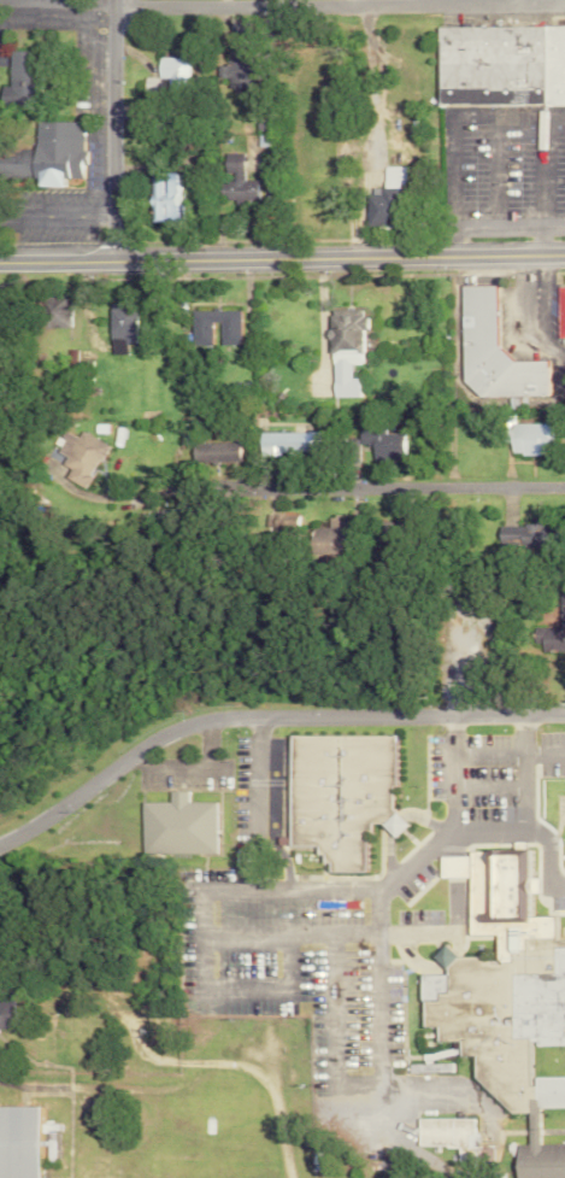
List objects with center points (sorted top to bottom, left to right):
road: (282, 4)
building: (498, 64)
building: (231, 70)
building: (170, 75)
building: (18, 80)
road: (111, 129)
building: (48, 152)
road: (532, 169)
building: (230, 180)
building: (159, 195)
building: (379, 197)
road: (492, 228)
road: (282, 258)
building: (52, 310)
building: (557, 311)
building: (118, 328)
building: (199, 333)
building: (341, 350)
building: (488, 353)
building: (520, 436)
building: (284, 443)
building: (375, 444)
building: (214, 451)
building: (77, 456)
road: (366, 487)
building: (279, 526)
building: (382, 531)
building: (518, 534)
building: (323, 538)
building: (549, 629)
road: (264, 717)
road: (506, 745)
road: (520, 774)
building: (335, 795)
road: (259, 803)
building: (178, 826)
road: (517, 836)
road: (261, 889)
building: (504, 998)
road: (375, 1006)
building: (426, 1067)
building: (443, 1132)
building: (14, 1142)
building: (37, 1142)

